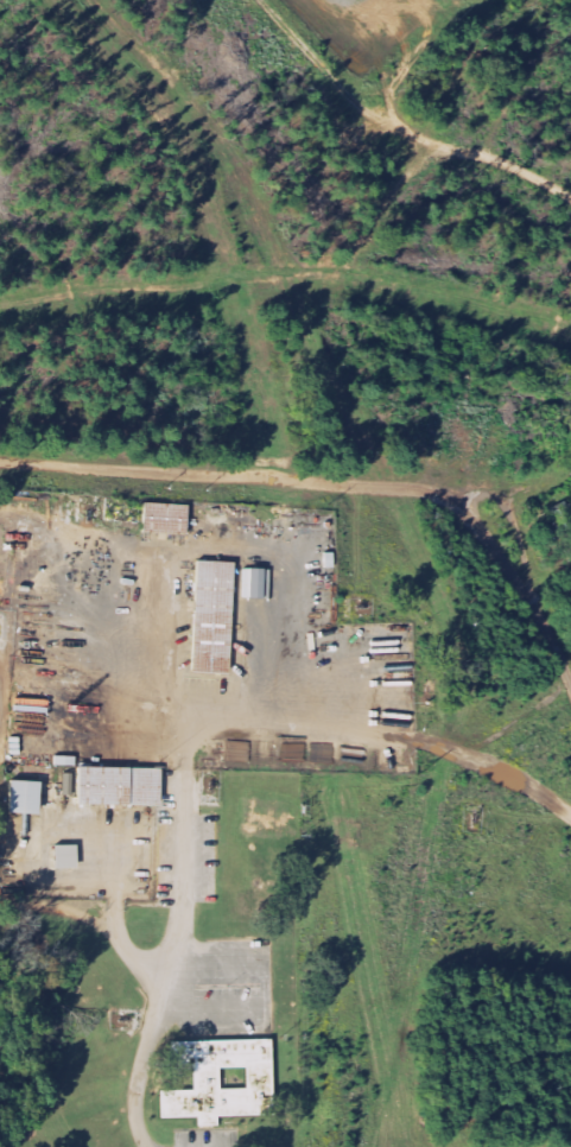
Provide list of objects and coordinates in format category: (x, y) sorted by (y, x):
road: (394, 128)
road: (337, 487)
building: (163, 518)
road: (203, 547)
building: (211, 616)
road: (514, 722)
road: (274, 729)
building: (68, 762)
road: (496, 772)
building: (70, 786)
building: (118, 787)
building: (23, 797)
road: (115, 835)
building: (66, 857)
road: (57, 910)
road: (114, 918)
road: (133, 958)
road: (169, 961)
road: (264, 993)
building: (220, 1081)

